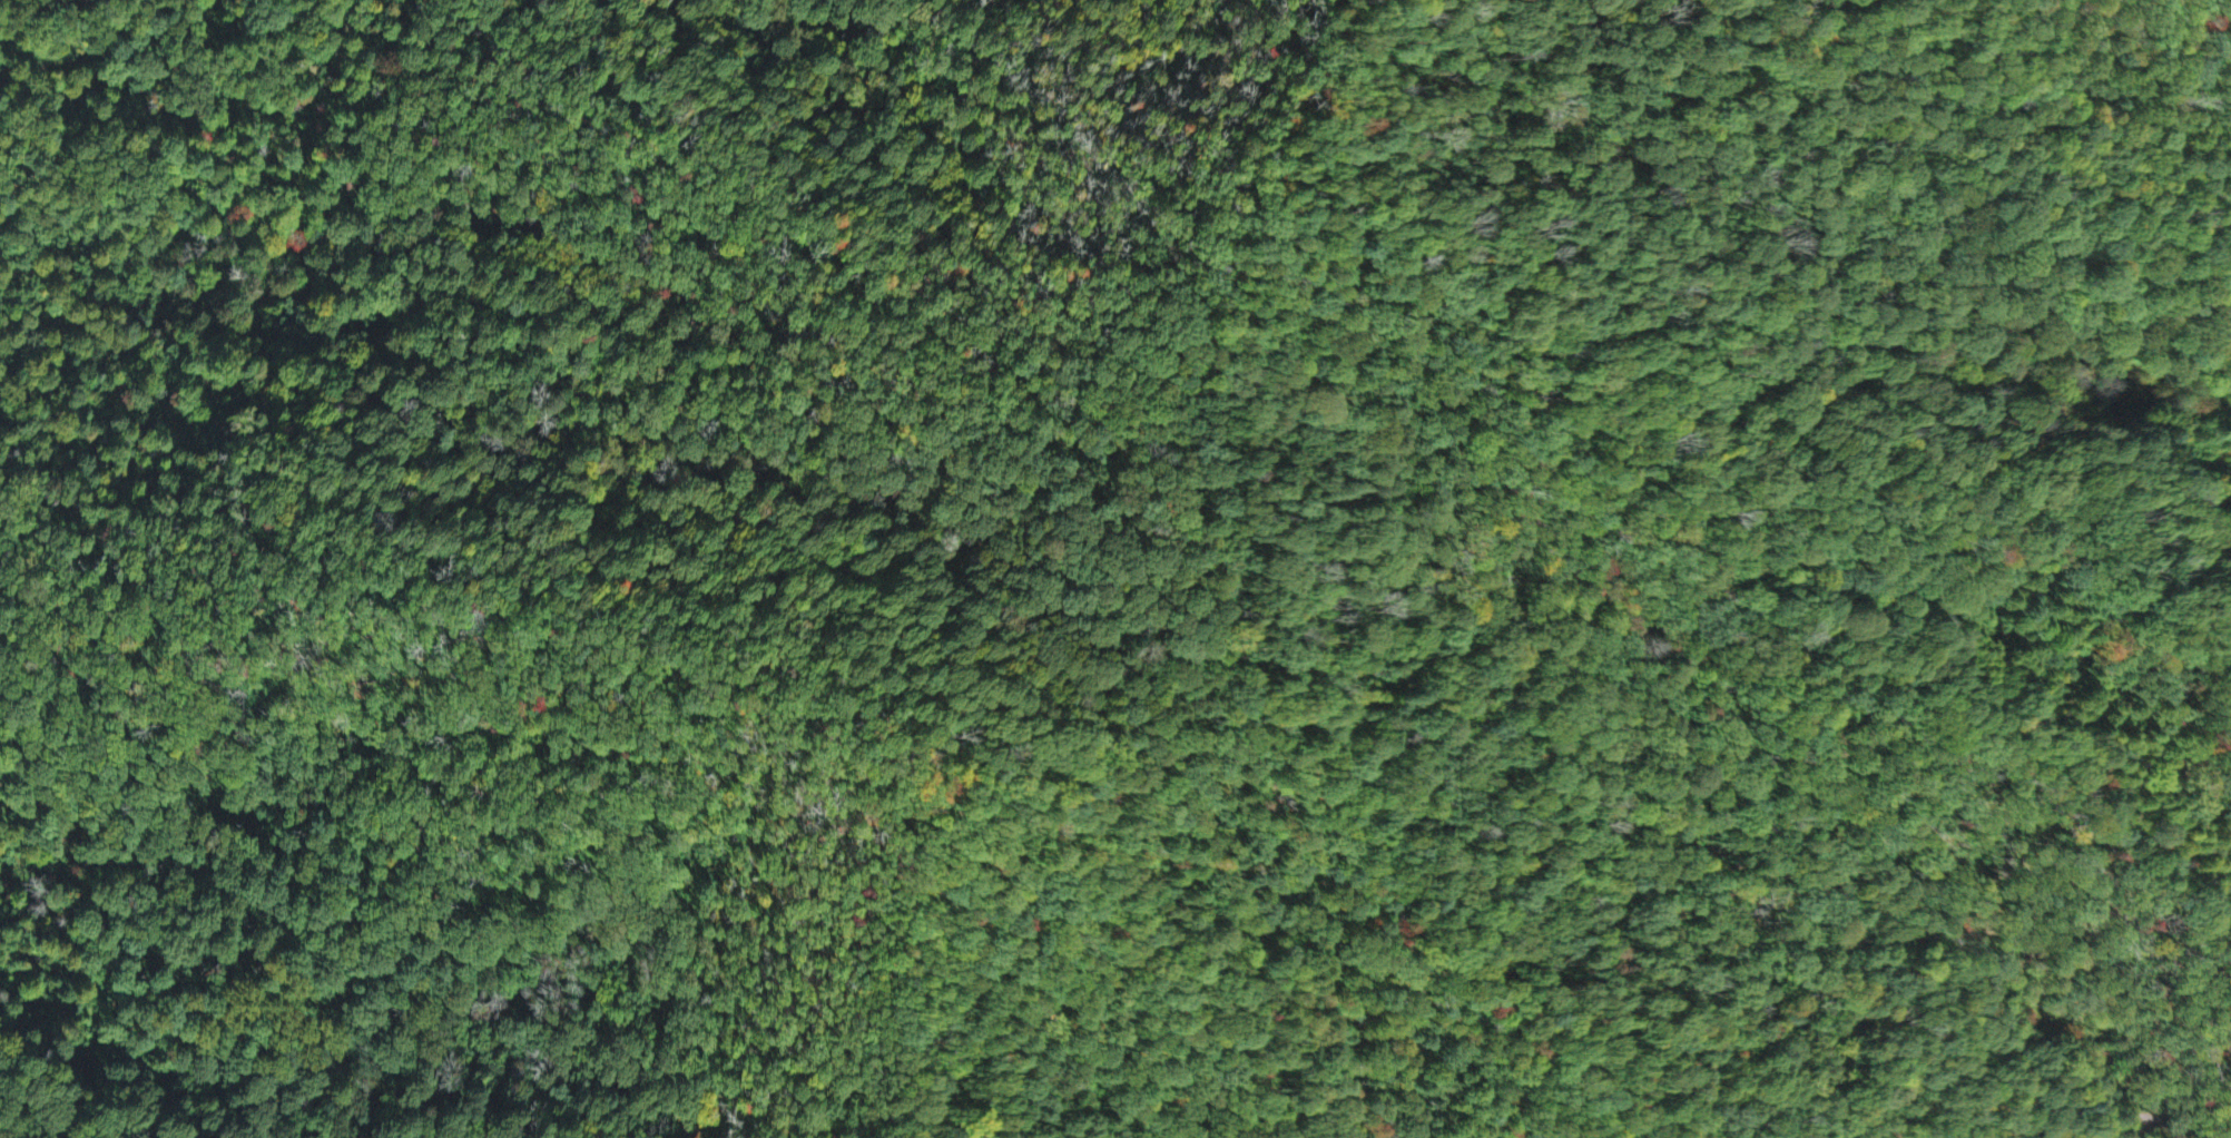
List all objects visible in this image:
road: (2172, 1114)

